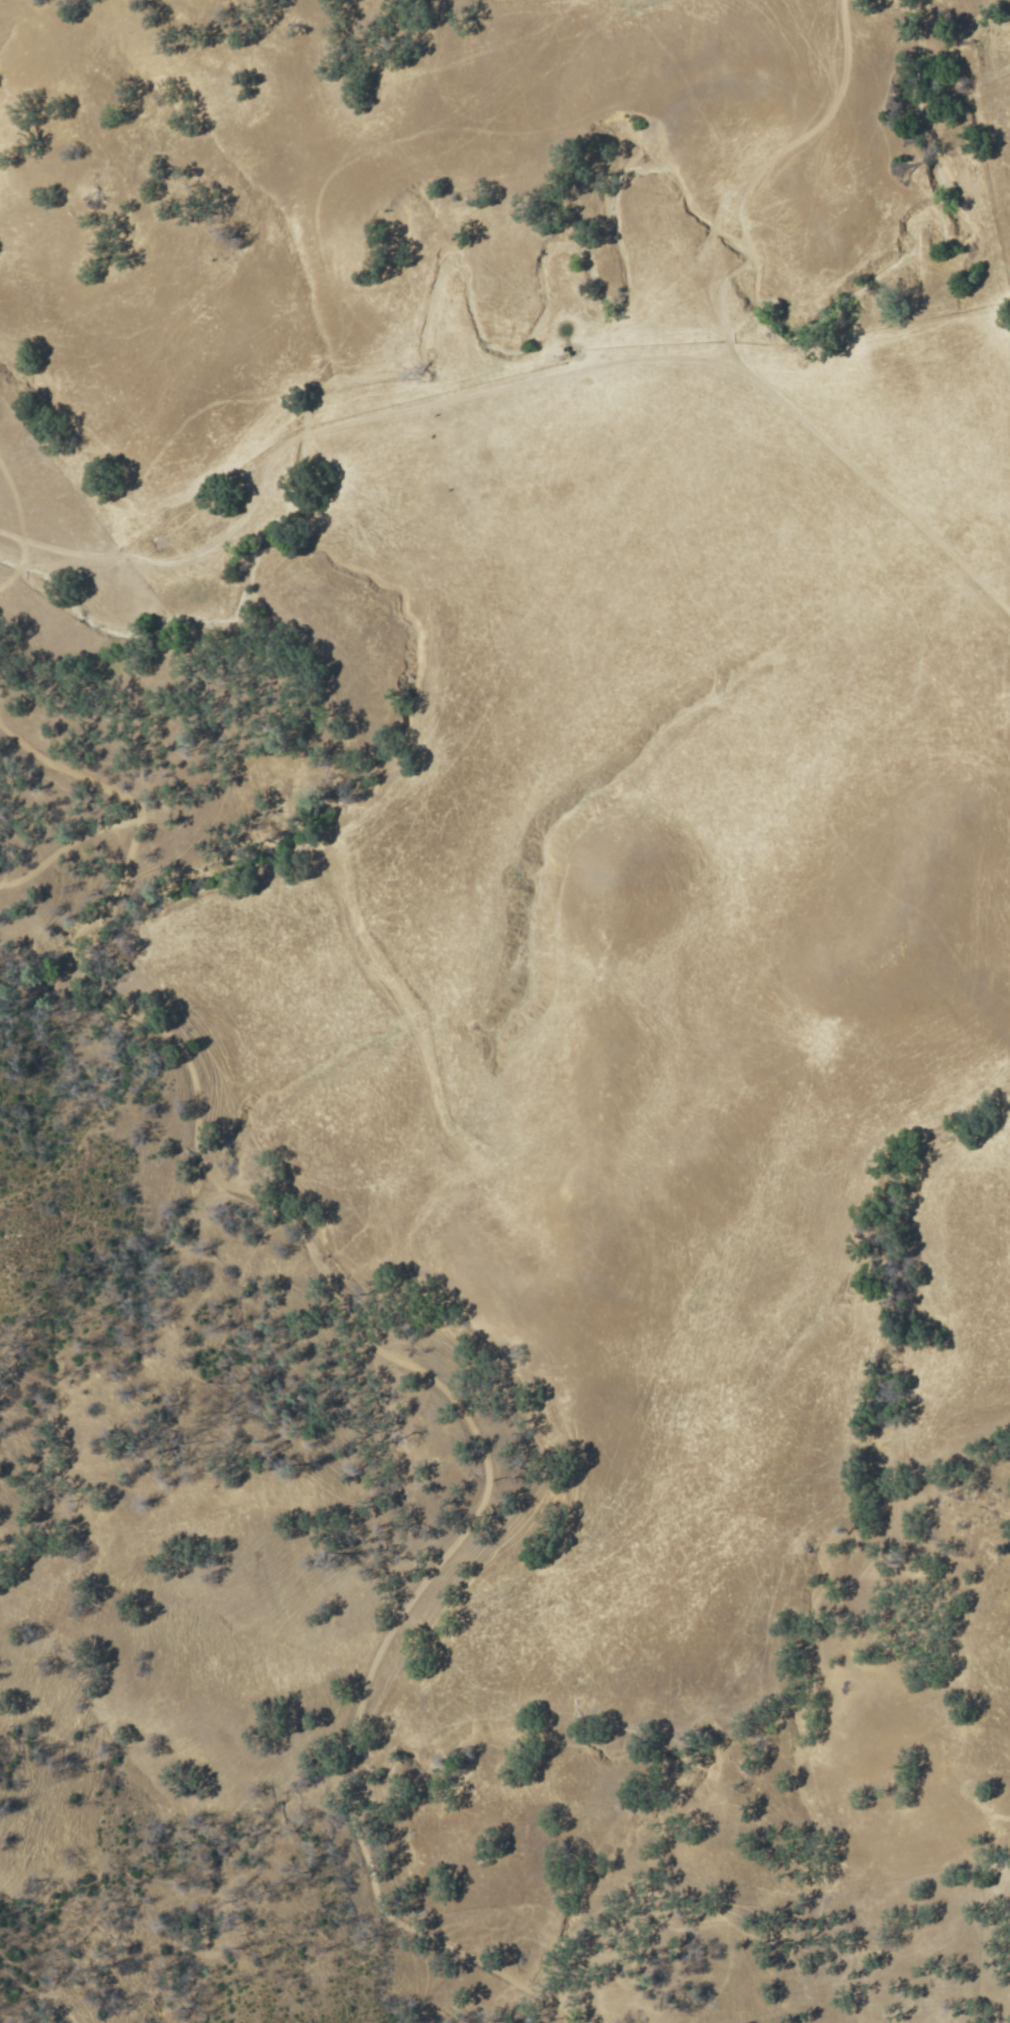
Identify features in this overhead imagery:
road: (767, 173)
road: (533, 381)
road: (876, 485)

